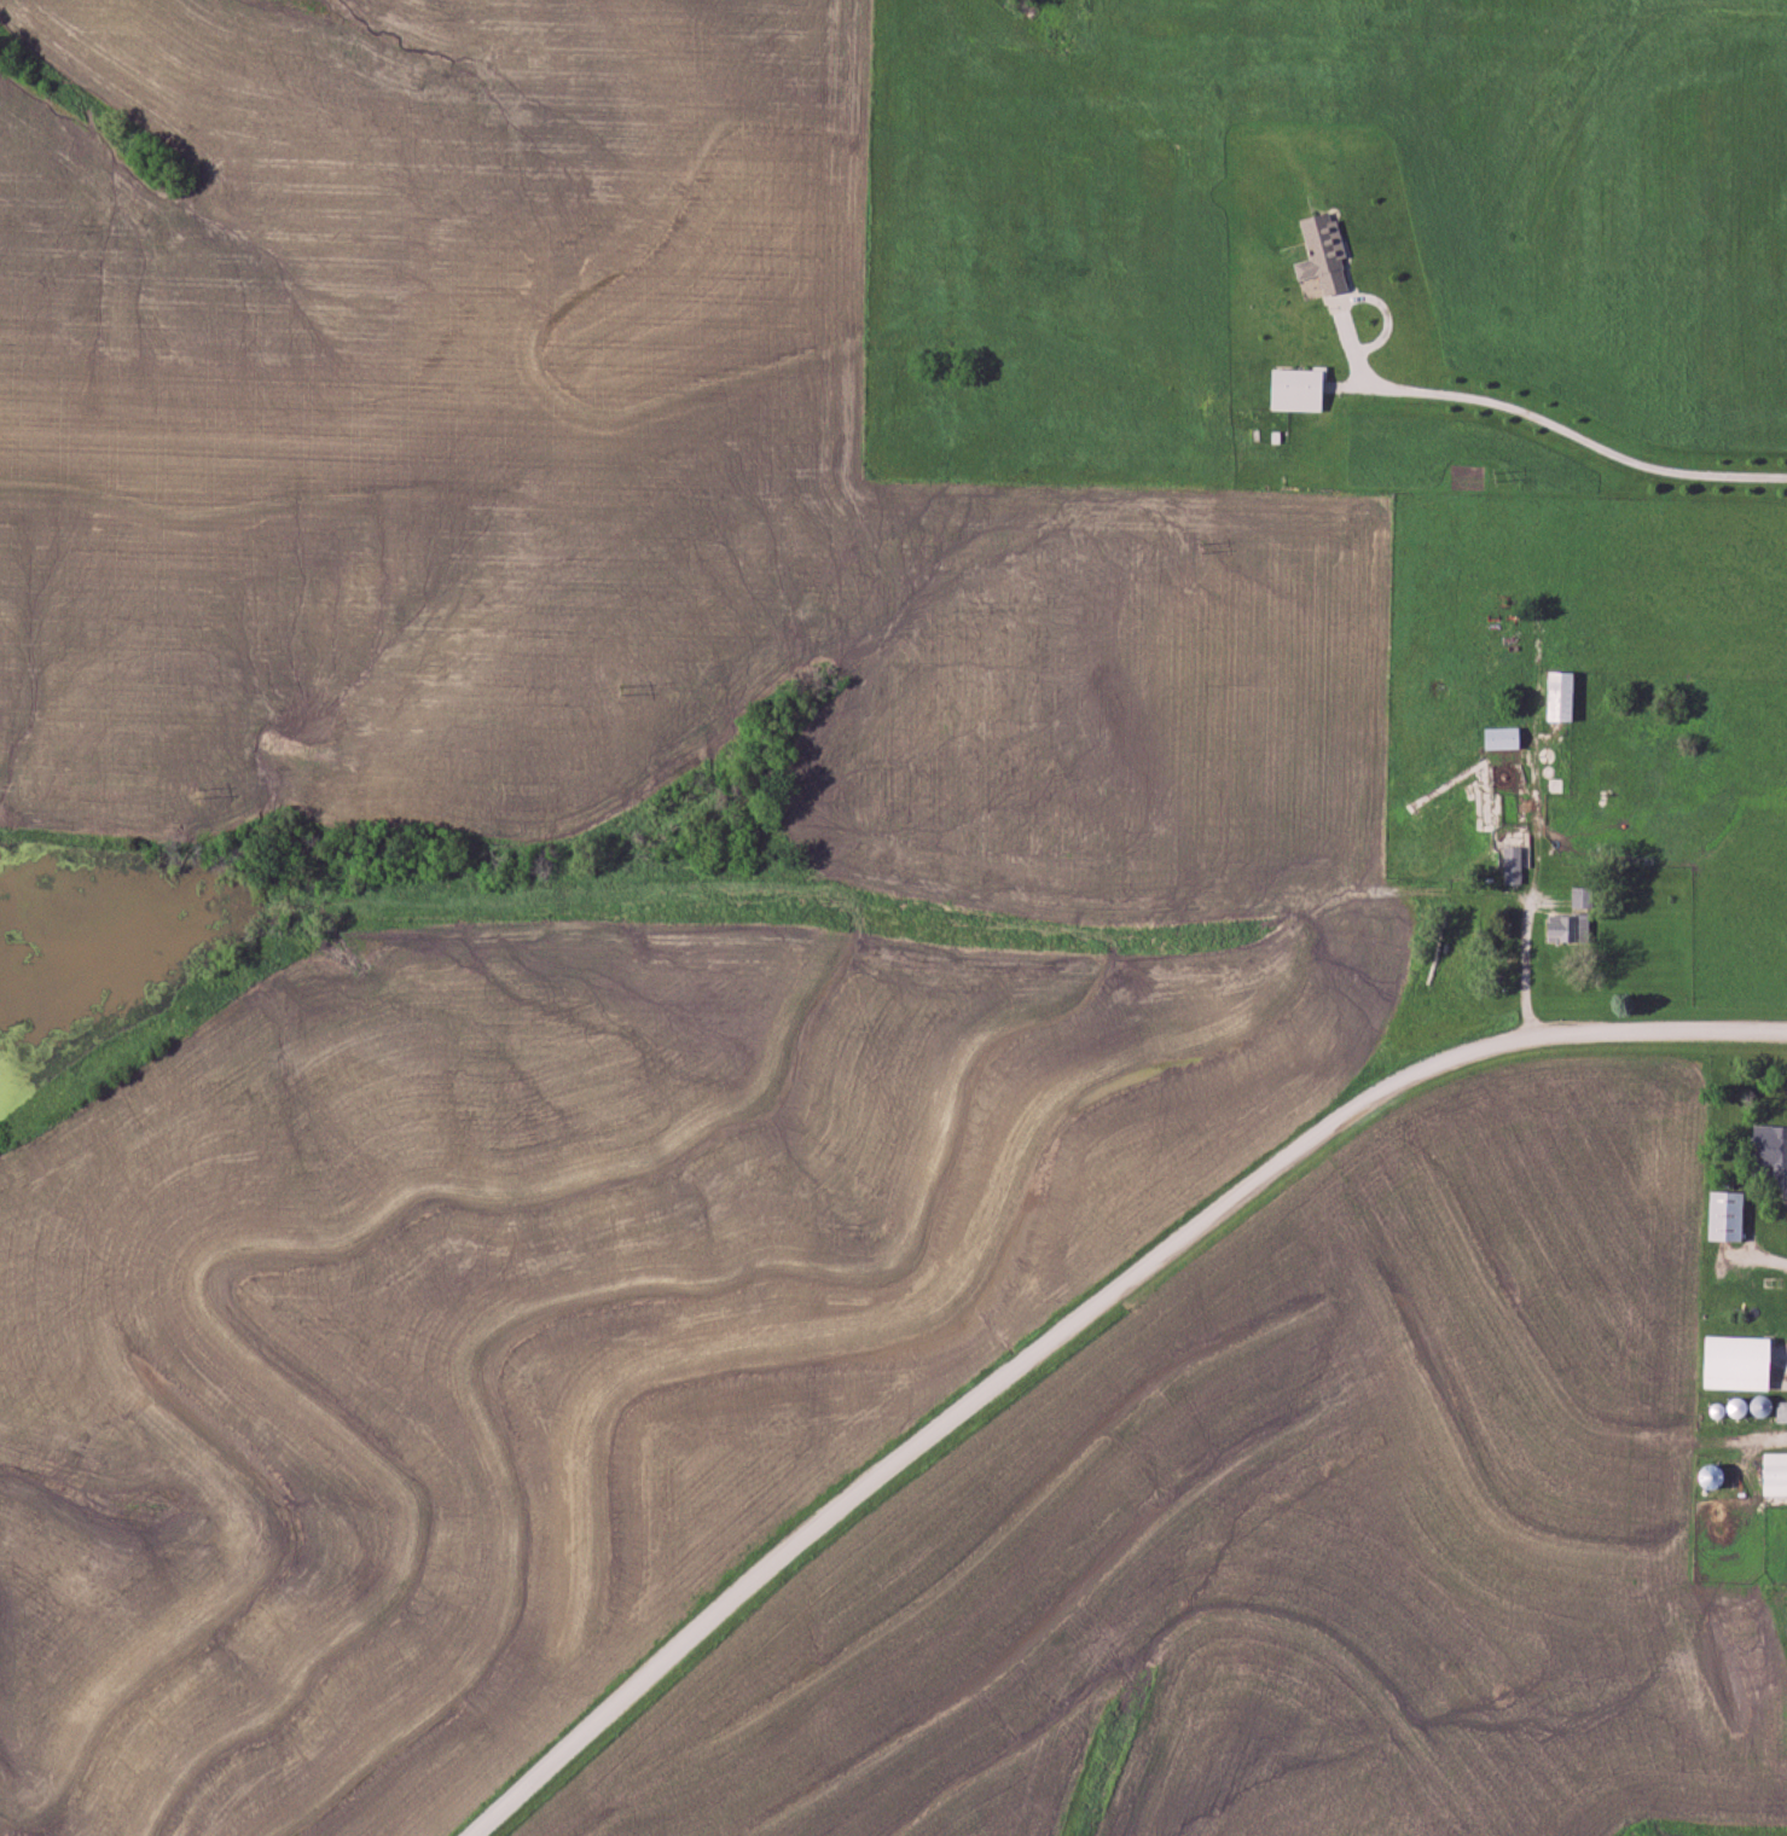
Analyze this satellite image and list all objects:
building: (1318, 256)
building: (1299, 389)
road: (1542, 416)
power tower: (1493, 476)
power tower: (1202, 550)
power tower: (628, 690)
building: (1562, 696)
building: (1504, 738)
building: (1607, 762)
building: (1445, 786)
power tower: (191, 794)
building: (1513, 865)
building: (1568, 929)
road: (1519, 964)
building: (1728, 1216)
road: (1066, 1300)
building: (1740, 1364)
building: (1775, 1475)

